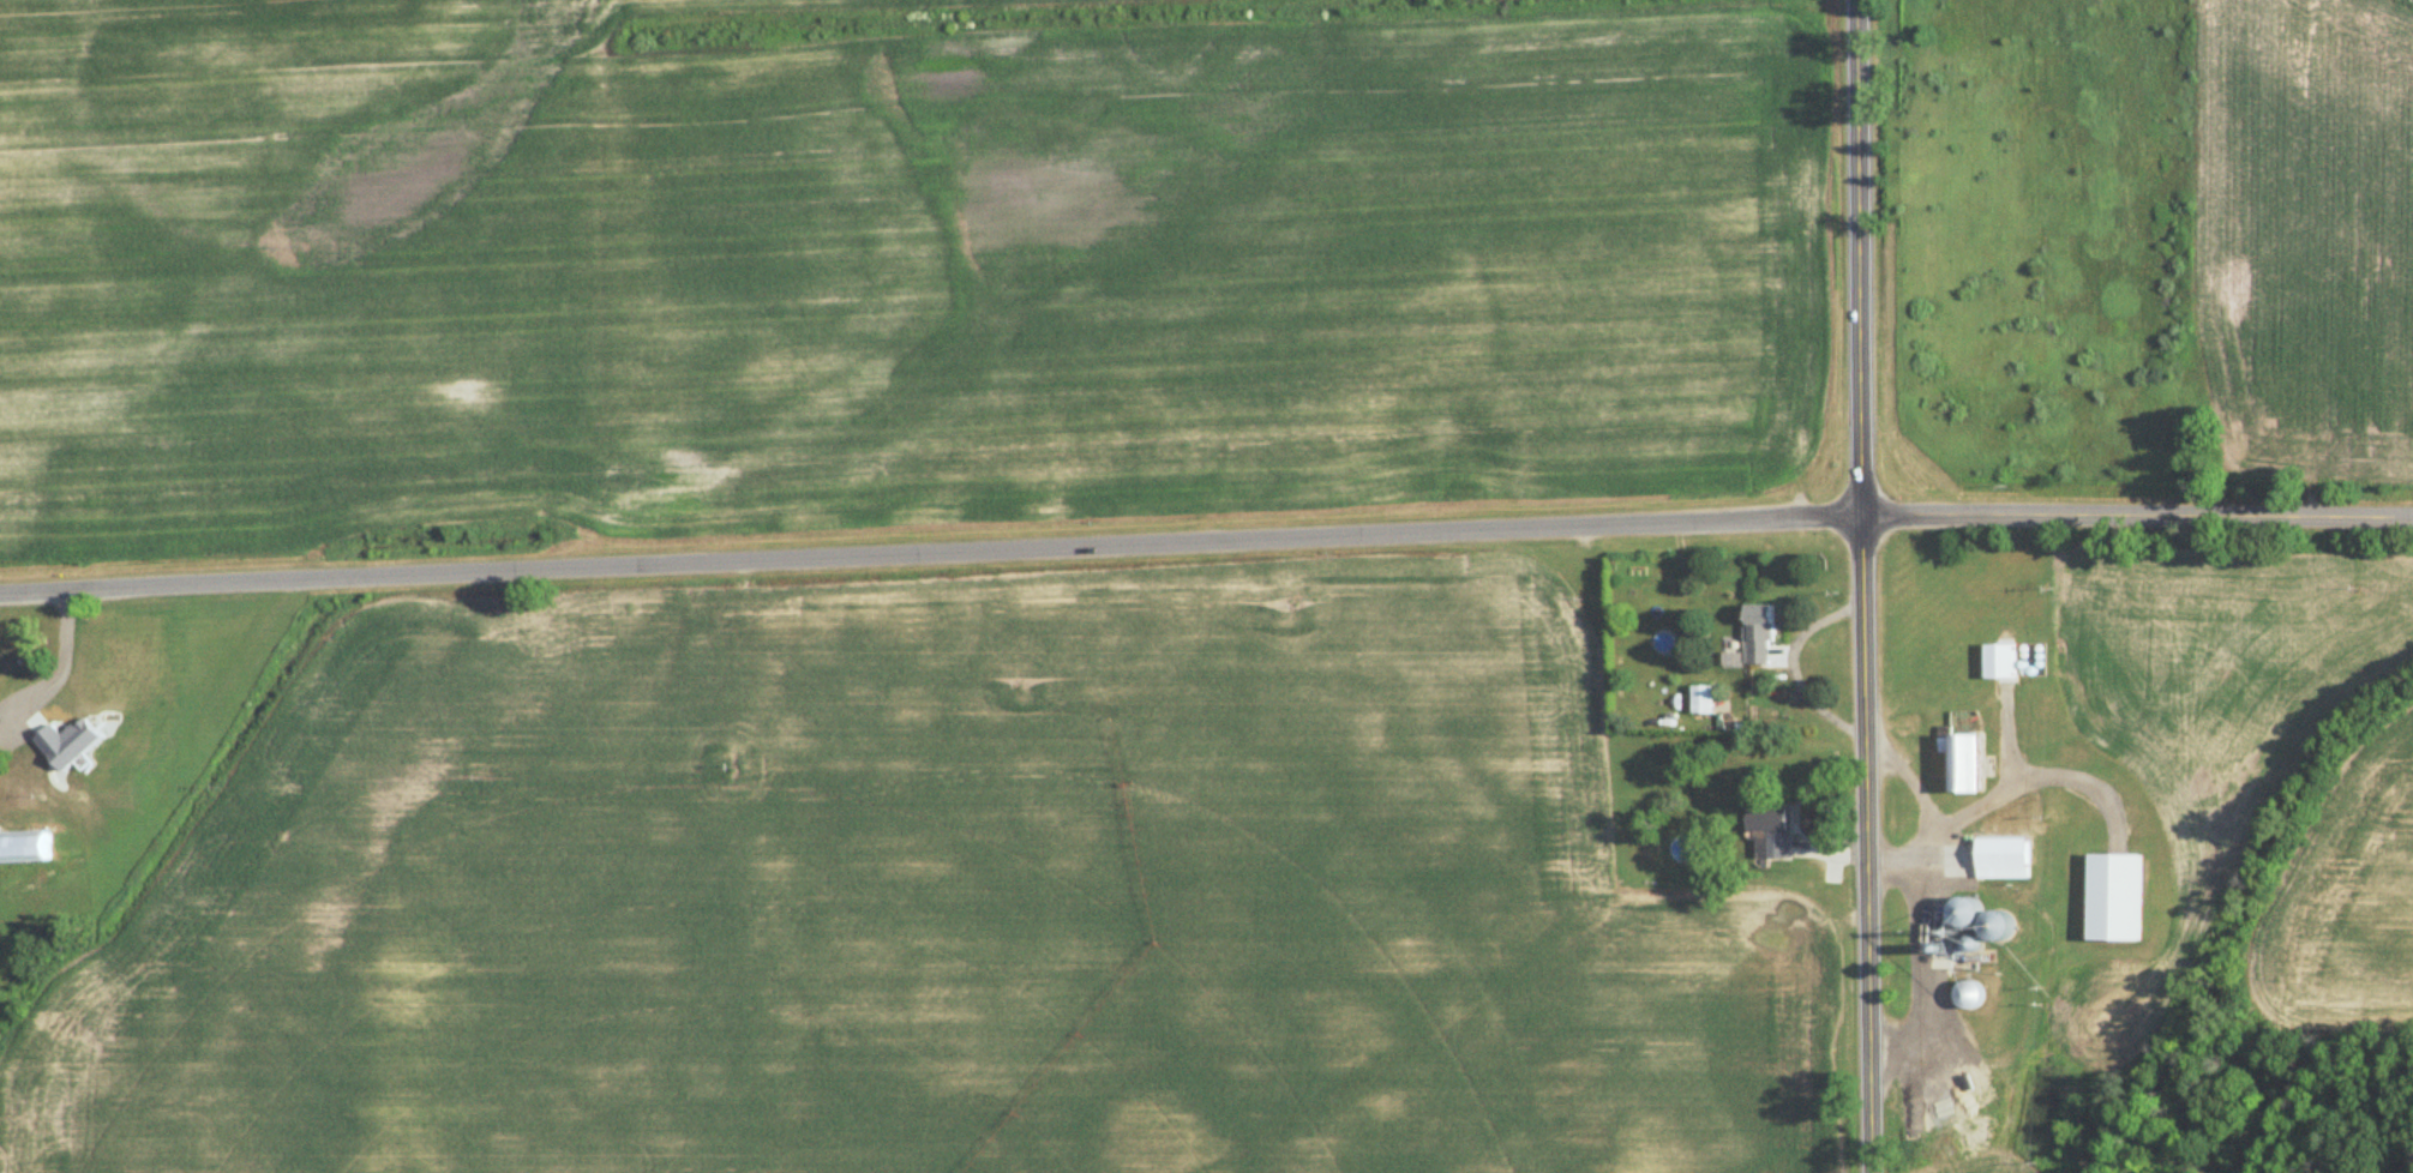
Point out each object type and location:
road: (2137, 517)
road: (930, 553)
road: (1861, 586)
building: (1759, 637)
road: (62, 661)
building: (2000, 663)
building: (1704, 702)
building: (1965, 766)
building: (112, 793)
building: (1771, 835)
building: (25, 846)
building: (2004, 860)
building: (1968, 912)
building: (1999, 927)
building: (1970, 995)

